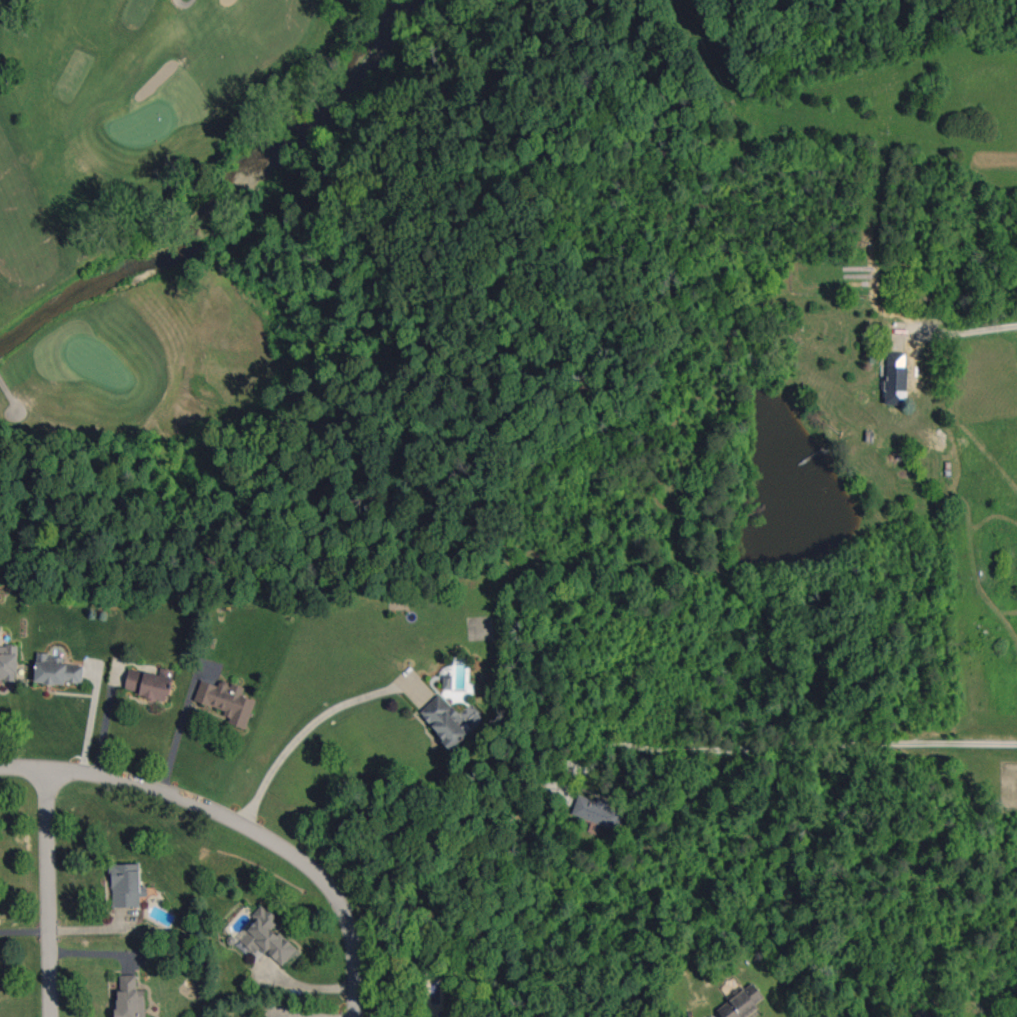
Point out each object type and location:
park: (143, 124)
park: (129, 179)
river: (241, 213)
road: (969, 331)
building: (8, 663)
road: (827, 668)
building: (57, 670)
building: (149, 683)
building: (226, 700)
building: (443, 721)
road: (185, 735)
road: (307, 737)
road: (818, 747)
building: (597, 811)
road: (238, 823)
building: (126, 885)
road: (48, 892)
building: (267, 937)
road: (306, 984)
building: (130, 997)
building: (741, 1002)

